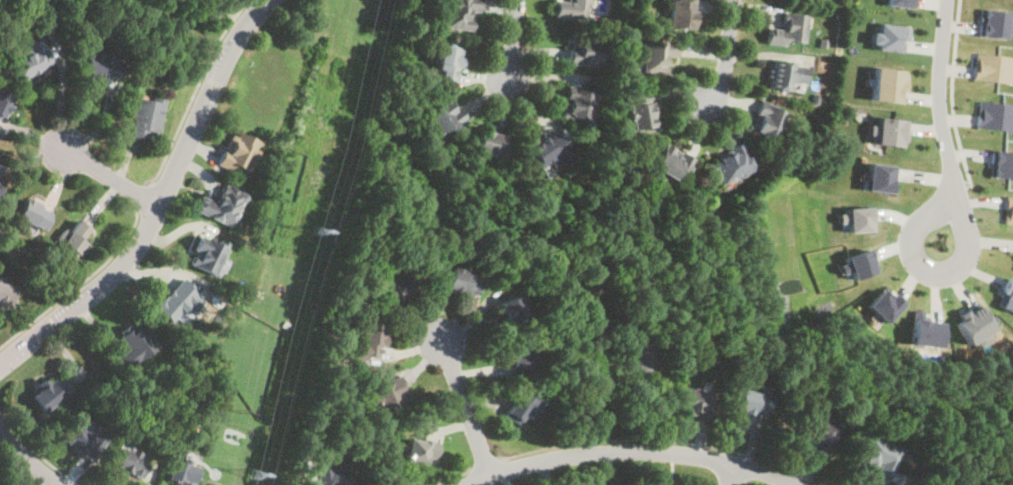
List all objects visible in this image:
building: (901, 2)
building: (572, 9)
road: (198, 10)
building: (459, 13)
building: (681, 14)
building: (996, 22)
building: (788, 30)
building: (889, 36)
road: (509, 40)
building: (584, 51)
road: (723, 54)
building: (653, 57)
building: (30, 59)
building: (442, 61)
building: (98, 66)
building: (994, 67)
building: (787, 77)
building: (886, 84)
road: (193, 92)
road: (953, 93)
road: (938, 95)
building: (3, 101)
building: (576, 104)
building: (640, 110)
building: (995, 115)
building: (443, 117)
building: (145, 119)
building: (766, 121)
building: (887, 131)
building: (492, 146)
building: (549, 150)
building: (239, 154)
building: (672, 163)
building: (1002, 163)
building: (731, 164)
road: (111, 177)
building: (879, 177)
building: (0, 186)
road: (142, 195)
road: (160, 202)
building: (222, 205)
building: (1008, 209)
building: (32, 215)
building: (855, 218)
power tower: (319, 230)
building: (72, 241)
building: (206, 255)
building: (856, 263)
road: (931, 271)
road: (80, 282)
building: (461, 282)
building: (393, 289)
building: (7, 295)
building: (1006, 295)
building: (176, 303)
building: (882, 303)
building: (510, 309)
building: (973, 323)
building: (924, 329)
building: (366, 341)
building: (136, 344)
building: (642, 357)
building: (517, 359)
building: (47, 393)
building: (391, 396)
building: (750, 402)
building: (693, 403)
road: (466, 406)
building: (520, 408)
power tower: (237, 411)
building: (815, 434)
road: (624, 438)
building: (82, 440)
road: (630, 450)
road: (40, 451)
building: (422, 452)
road: (31, 458)
building: (879, 458)
building: (128, 462)
road: (484, 464)
road: (748, 467)
building: (180, 473)
road: (729, 474)
building: (333, 475)
road: (453, 477)
road: (746, 482)

